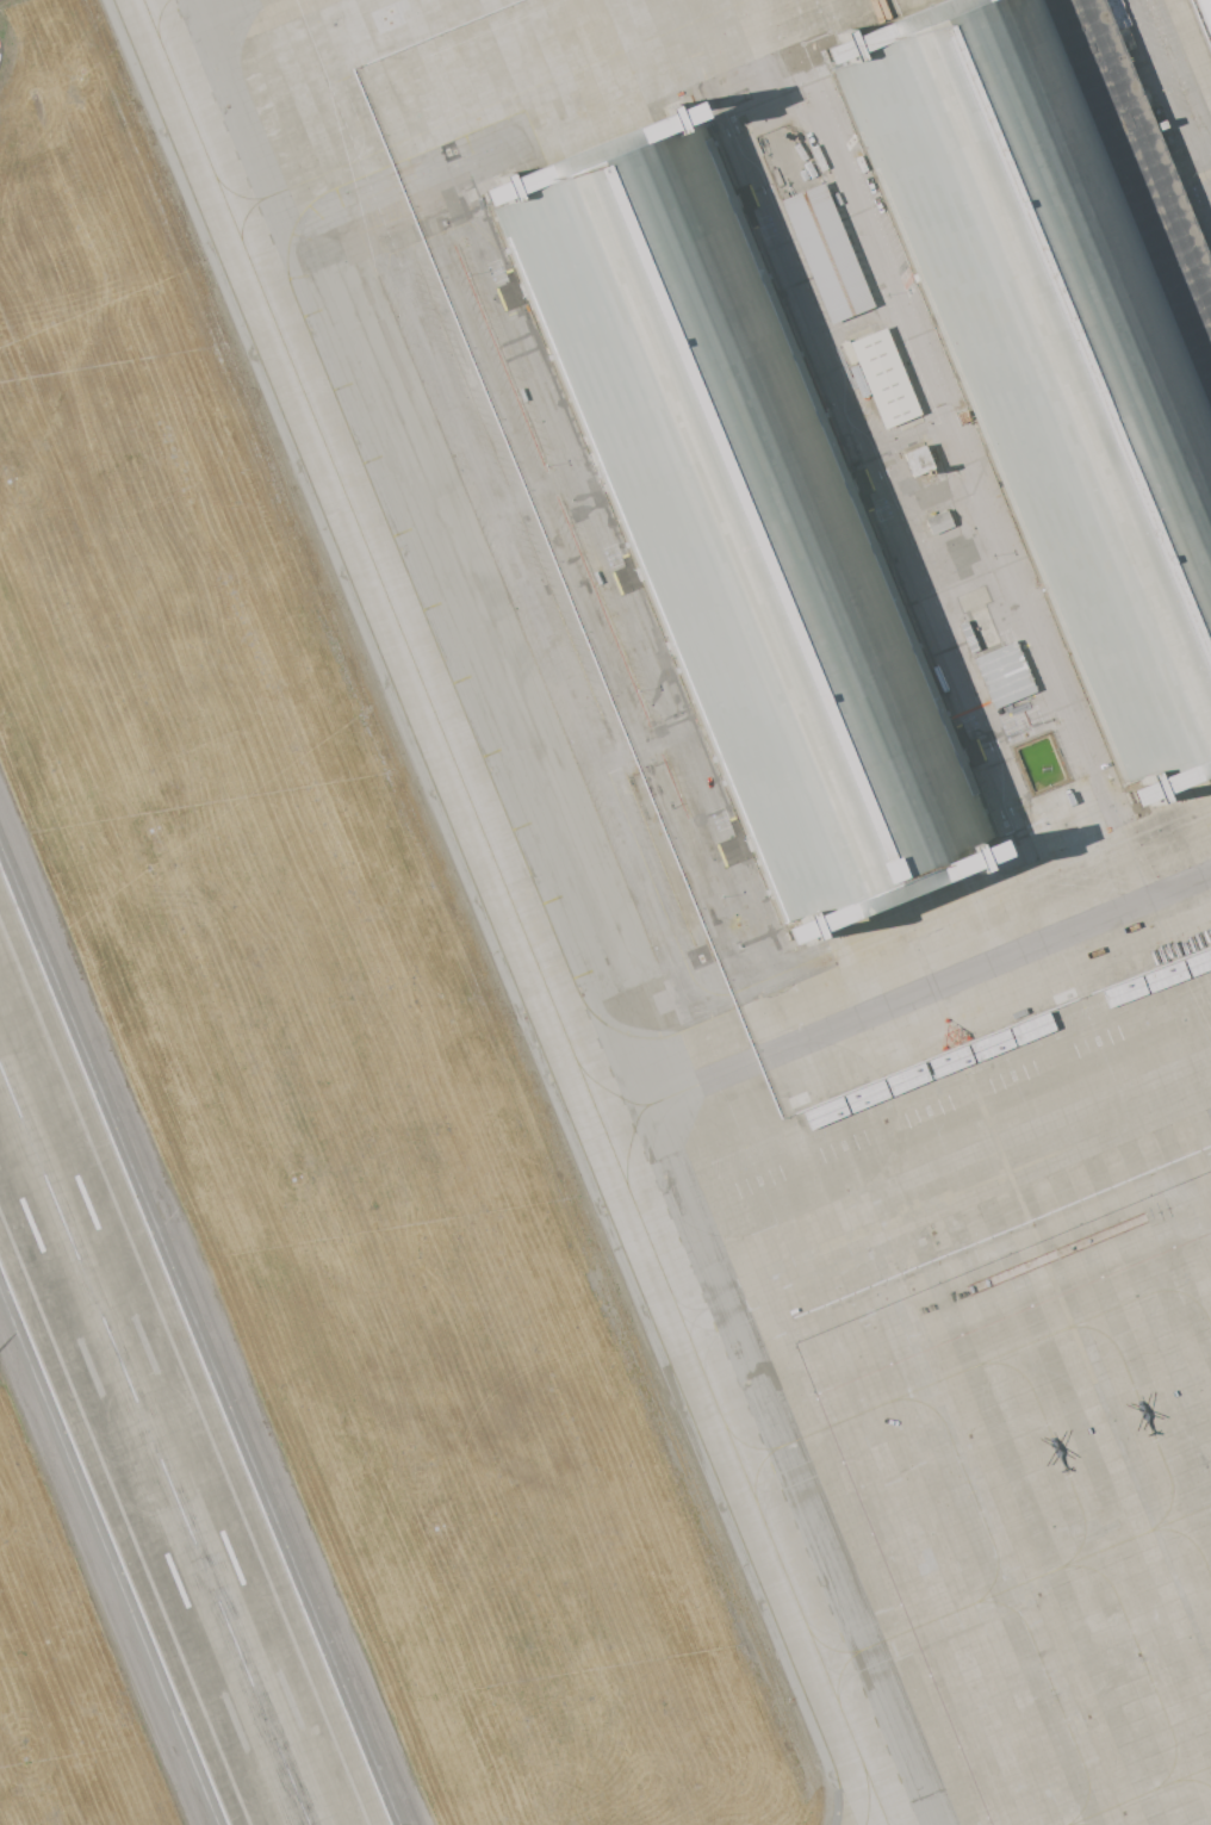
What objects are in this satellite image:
parking lot: (1203, 17)
building: (1204, 18)
building: (822, 253)
airport hangar: (1061, 331)
building: (1061, 331)
building: (881, 379)
building: (917, 460)
airport hangar: (734, 515)
building: (734, 515)
building: (937, 522)
building: (1002, 675)
airport apron: (845, 741)
airport taxiway: (517, 912)
airport: (604, 912)
building: (1198, 968)
building: (1165, 982)
building: (1123, 998)
building: (1032, 1035)
building: (990, 1050)
building: (949, 1067)
building: (906, 1084)
building: (864, 1101)
building: (824, 1119)
airport runway: (155, 1445)

